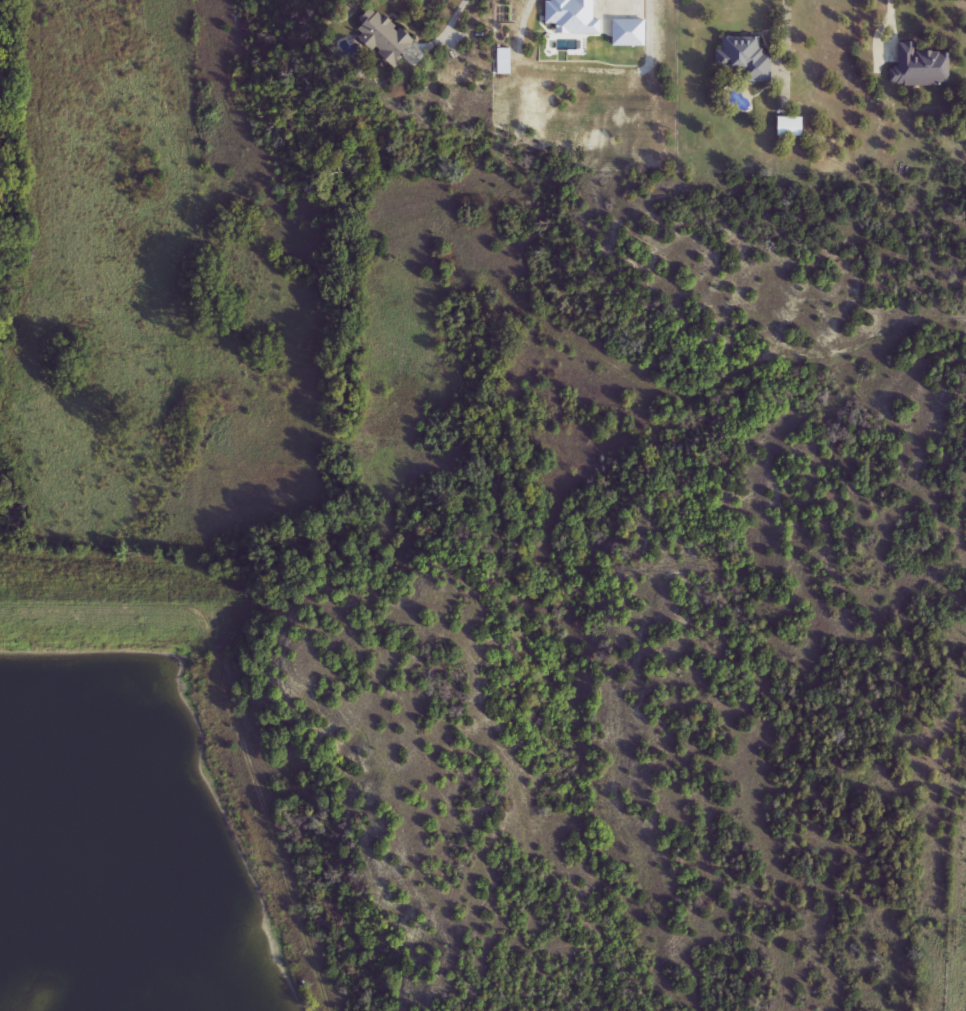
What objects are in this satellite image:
road: (451, 22)
building: (392, 37)
building: (746, 58)
building: (921, 67)
building: (791, 127)
road: (274, 686)

